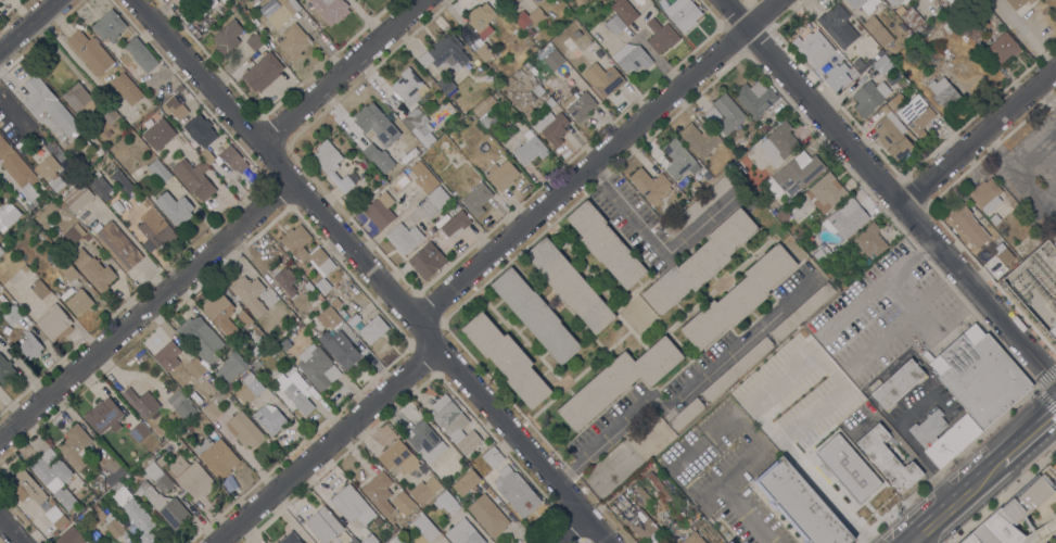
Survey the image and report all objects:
building: (2, 0)
building: (254, 0)
building: (179, 1)
building: (894, 1)
building: (1018, 3)
building: (864, 4)
building: (230, 7)
building: (268, 7)
building: (663, 7)
building: (330, 10)
building: (624, 11)
building: (283, 12)
building: (247, 14)
building: (686, 15)
building: (909, 15)
building: (530, 17)
building: (481, 18)
building: (1018, 22)
road: (28, 25)
building: (615, 25)
building: (838, 25)
building: (109, 26)
building: (902, 28)
building: (877, 30)
building: (531, 31)
building: (974, 33)
building: (576, 34)
building: (661, 36)
building: (908, 36)
building: (227, 37)
building: (559, 38)
building: (254, 41)
building: (294, 41)
building: (569, 43)
building: (1003, 47)
building: (813, 48)
building: (90, 52)
building: (484, 52)
building: (445, 53)
building: (576, 53)
building: (140, 54)
building: (567, 55)
building: (632, 58)
building: (554, 60)
building: (865, 62)
building: (882, 64)
building: (533, 71)
building: (263, 72)
road: (341, 72)
building: (603, 77)
building: (837, 77)
building: (901, 83)
building: (446, 85)
building: (126, 88)
building: (179, 88)
building: (406, 89)
building: (538, 92)
building: (944, 93)
building: (531, 97)
building: (869, 97)
building: (755, 98)
road: (1046, 98)
building: (78, 99)
building: (550, 102)
building: (891, 104)
building: (49, 105)
building: (578, 105)
building: (174, 108)
building: (448, 108)
building: (481, 108)
building: (724, 114)
building: (109, 115)
building: (916, 115)
building: (376, 123)
building: (418, 125)
building: (552, 127)
building: (107, 134)
building: (157, 134)
building: (891, 135)
building: (201, 136)
building: (699, 137)
road: (978, 138)
building: (781, 140)
building: (84, 146)
building: (139, 149)
building: (530, 149)
building: (117, 151)
building: (99, 152)
building: (378, 157)
building: (232, 159)
building: (679, 162)
road: (593, 163)
building: (331, 164)
building: (124, 165)
road: (1017, 167)
building: (157, 171)
building: (798, 172)
building: (18, 173)
building: (50, 173)
building: (141, 173)
building: (501, 175)
building: (423, 177)
building: (193, 178)
building: (122, 181)
building: (650, 186)
building: (100, 188)
building: (825, 191)
building: (758, 192)
road: (888, 192)
building: (985, 195)
building: (77, 197)
building: (474, 197)
building: (433, 201)
building: (701, 203)
building: (178, 210)
building: (380, 211)
building: (783, 215)
building: (960, 215)
building: (8, 216)
building: (845, 218)
building: (993, 218)
building: (456, 225)
building: (155, 230)
building: (74, 232)
building: (1055, 235)
road: (656, 237)
building: (404, 238)
building: (869, 240)
building: (1055, 242)
building: (4, 244)
building: (117, 244)
building: (606, 244)
building: (1, 251)
building: (820, 253)
building: (308, 254)
building: (427, 261)
building: (700, 262)
building: (24, 267)
building: (65, 268)
road: (364, 270)
building: (96, 273)
building: (285, 280)
power substation: (1036, 282)
building: (570, 286)
building: (38, 288)
road: (878, 288)
building: (250, 294)
building: (738, 298)
building: (78, 301)
building: (335, 302)
building: (304, 307)
road: (145, 311)
building: (802, 311)
building: (221, 314)
building: (12, 315)
building: (535, 315)
building: (244, 318)
building: (328, 318)
building: (353, 319)
building: (54, 323)
building: (298, 326)
building: (315, 328)
building: (372, 329)
building: (1053, 331)
building: (203, 340)
building: (294, 340)
building: (283, 344)
building: (30, 346)
building: (340, 348)
building: (165, 358)
building: (507, 359)
building: (229, 367)
building: (317, 367)
building: (195, 368)
building: (5, 369)
building: (737, 369)
building: (979, 376)
building: (619, 381)
building: (898, 383)
building: (250, 388)
building: (295, 393)
road: (675, 396)
building: (141, 402)
building: (217, 403)
building: (181, 404)
building: (686, 414)
building: (104, 415)
building: (269, 418)
building: (453, 425)
building: (187, 426)
building: (157, 430)
building: (244, 430)
road: (903, 430)
building: (139, 432)
road: (1030, 433)
building: (943, 435)
building: (425, 441)
building: (75, 446)
road: (323, 447)
road: (751, 450)
building: (830, 455)
building: (216, 456)
building: (398, 458)
building: (493, 458)
building: (888, 458)
building: (161, 462)
building: (177, 464)
building: (476, 467)
building: (1054, 467)
building: (112, 469)
road: (810, 475)
building: (54, 479)
building: (196, 480)
railway: (984, 480)
building: (466, 482)
building: (26, 487)
building: (658, 487)
building: (424, 490)
building: (516, 491)
building: (379, 492)
building: (640, 494)
road: (943, 494)
building: (162, 495)
building: (796, 501)
building: (446, 502)
building: (348, 503)
road: (966, 503)
building: (405, 505)
building: (133, 512)
building: (1016, 512)
building: (488, 515)
building: (634, 515)
building: (55, 516)
building: (102, 520)
building: (323, 525)
building: (424, 527)
road: (561, 530)
road: (10, 531)
building: (463, 533)
building: (69, 536)
building: (290, 539)
building: (692, 539)
building: (369, 540)
building: (395, 540)
building: (970, 540)
building: (353, 541)
building: (440, 542)
building: (730, 542)

